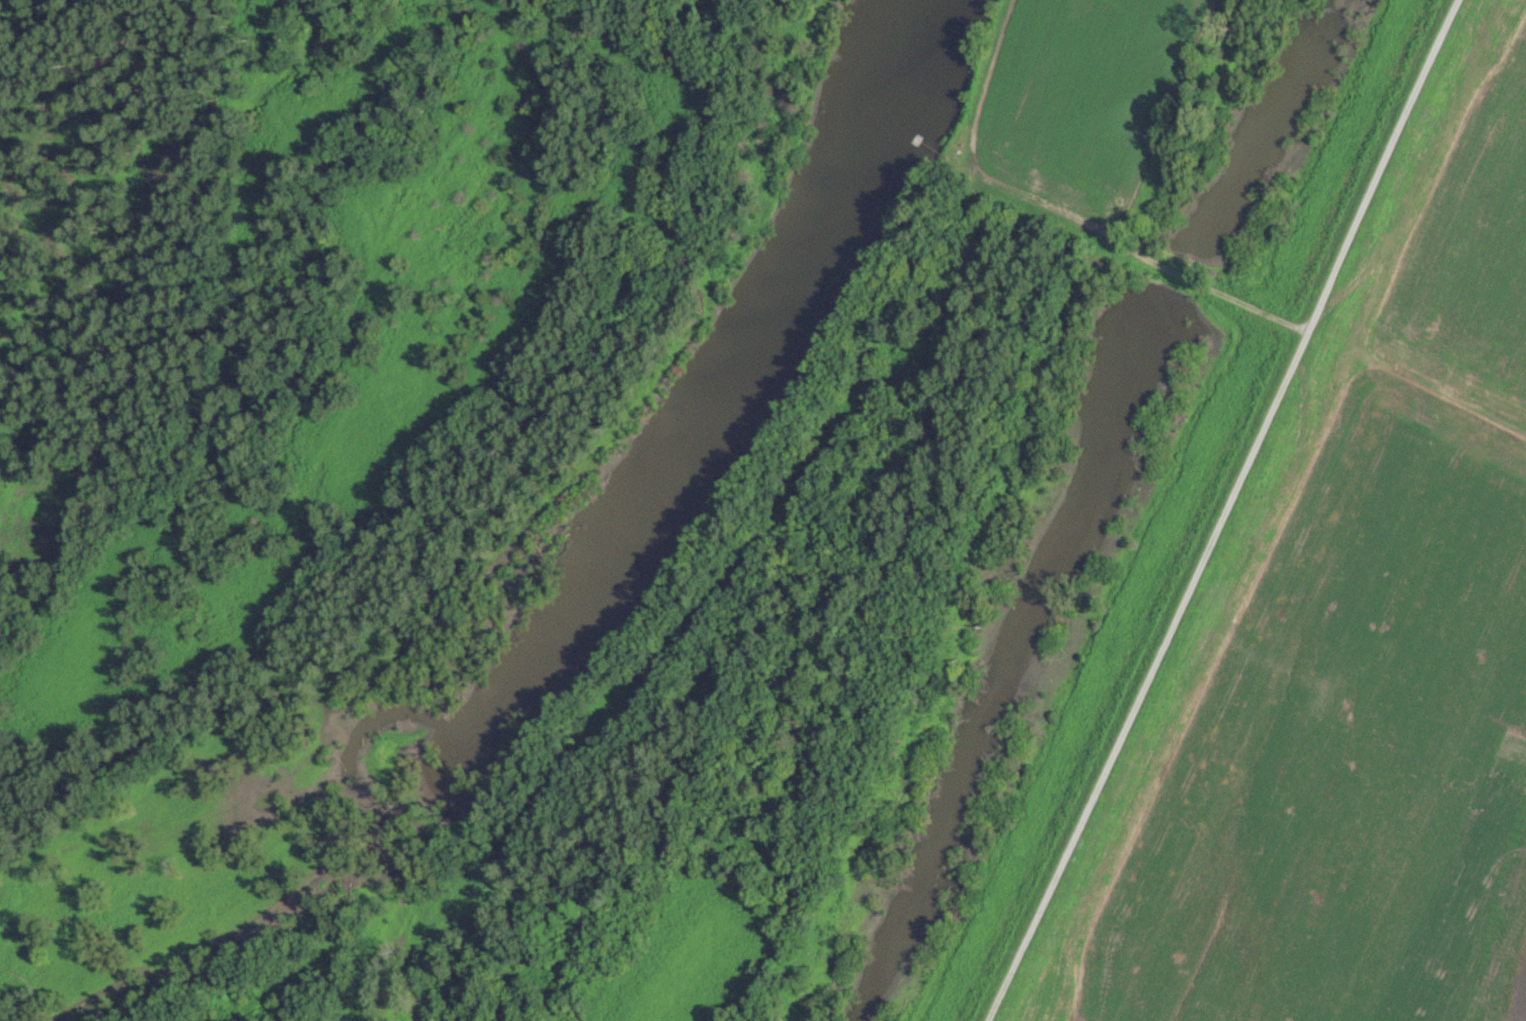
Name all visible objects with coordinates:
road: (1224, 511)

